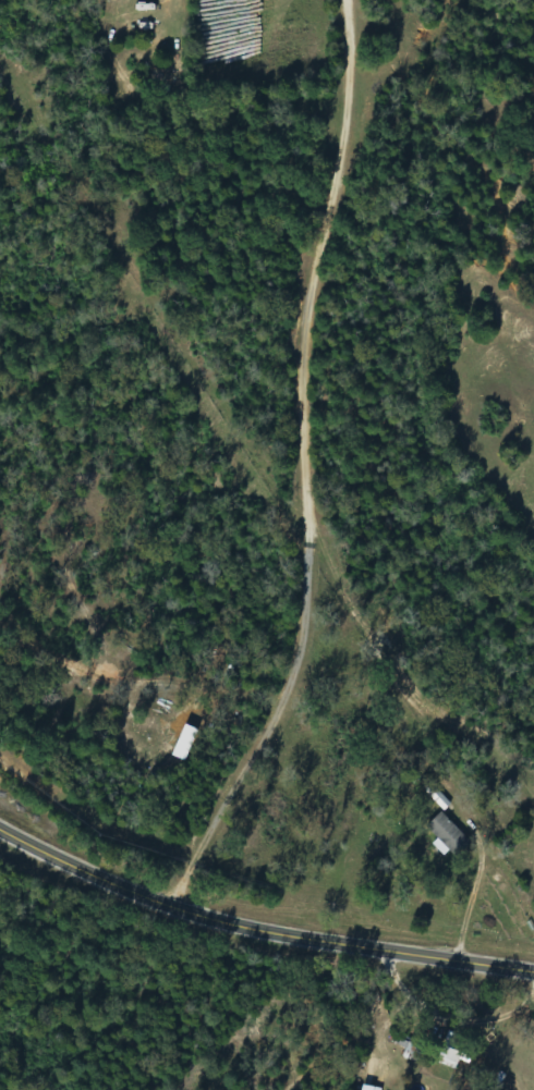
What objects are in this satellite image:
road: (320, 474)
building: (440, 798)
building: (451, 837)
road: (258, 930)
building: (456, 1051)

